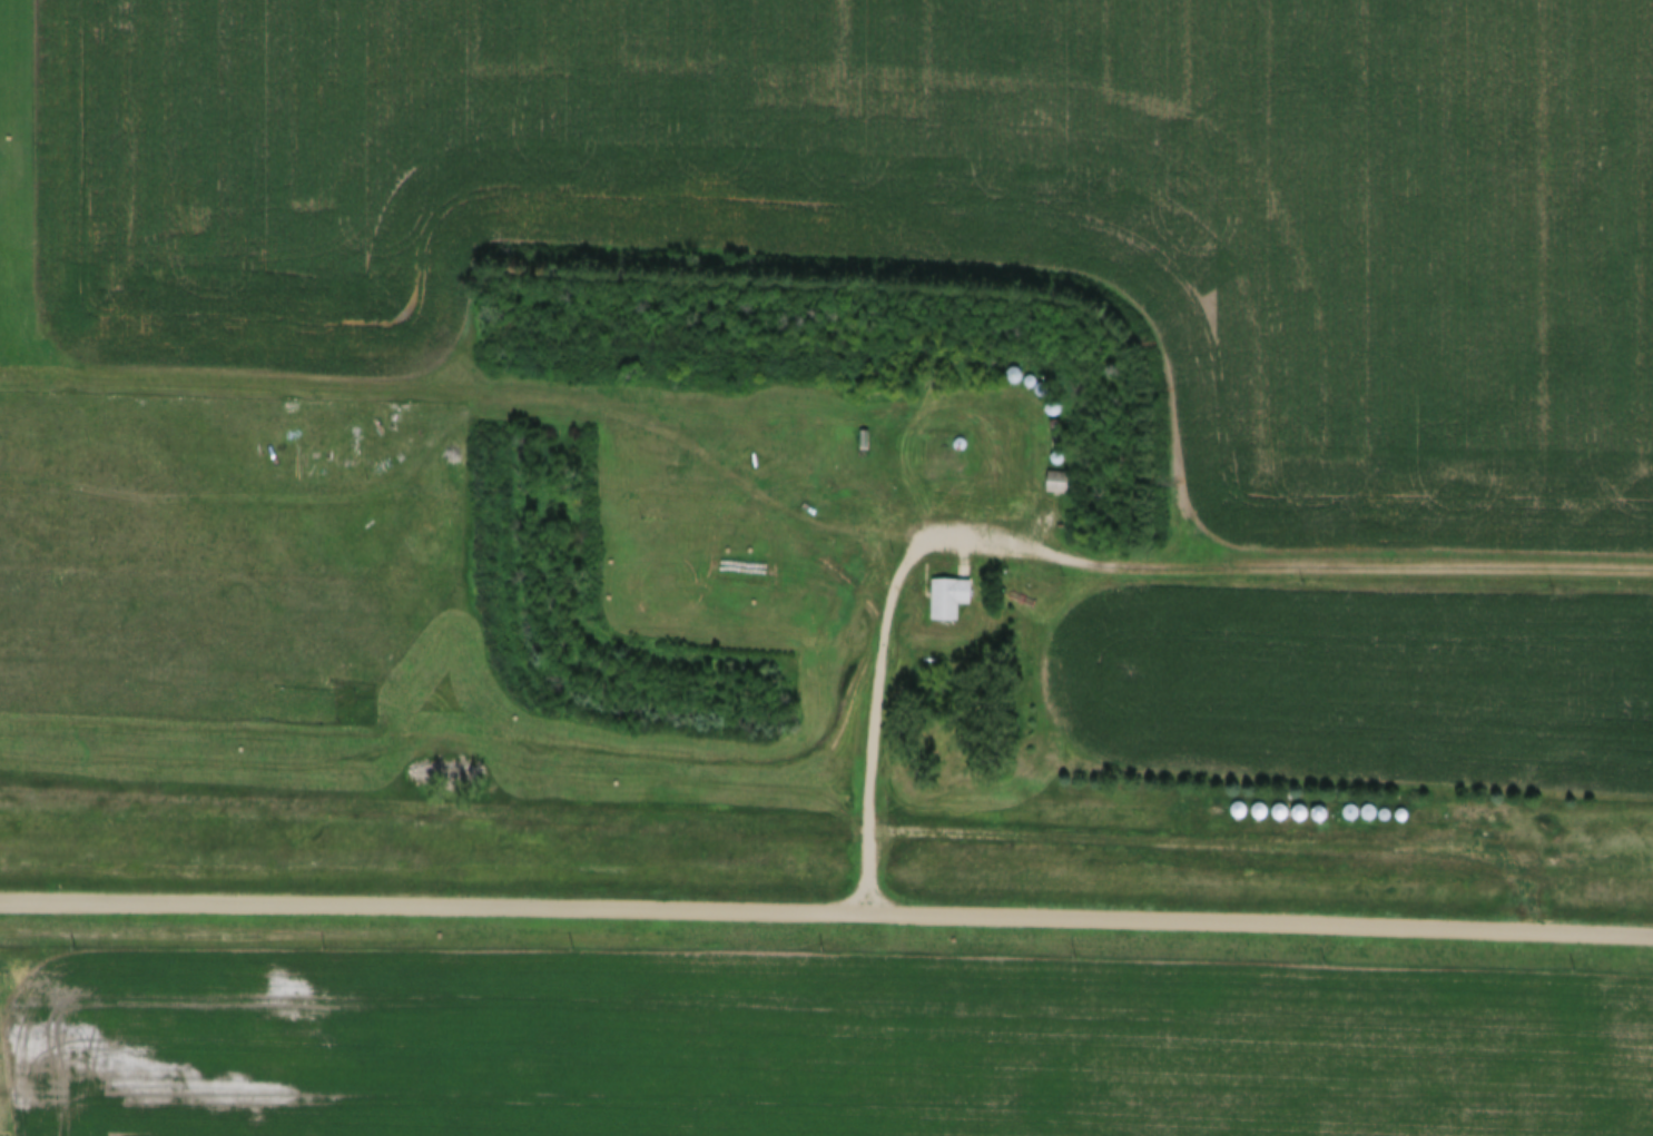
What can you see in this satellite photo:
building: (1020, 366)
silo: (1020, 366)
building: (1036, 373)
silo: (1036, 373)
building: (1014, 379)
building: (1059, 399)
silo: (1059, 399)
building: (965, 435)
silo: (965, 435)
building: (1062, 448)
silo: (1062, 448)
building: (1060, 473)
building: (1057, 485)
road: (1381, 569)
building: (951, 590)
road: (885, 626)
building: (1248, 800)
silo: (1248, 800)
building: (1269, 801)
silo: (1269, 801)
building: (1289, 802)
silo: (1289, 802)
building: (1307, 803)
silo: (1307, 803)
building: (1357, 803)
silo: (1357, 803)
building: (1375, 803)
silo: (1375, 803)
building: (1326, 804)
silo: (1326, 804)
building: (1393, 806)
silo: (1393, 806)
building: (1469, 806)
silo: (1469, 806)
building: (1410, 807)
silo: (1410, 807)
building: (1427, 807)
silo: (1427, 807)
building: (1444, 807)
silo: (1444, 807)
building: (1485, 807)
silo: (1485, 807)
building: (1502, 808)
silo: (1502, 808)
building: (1238, 813)
road: (826, 909)

